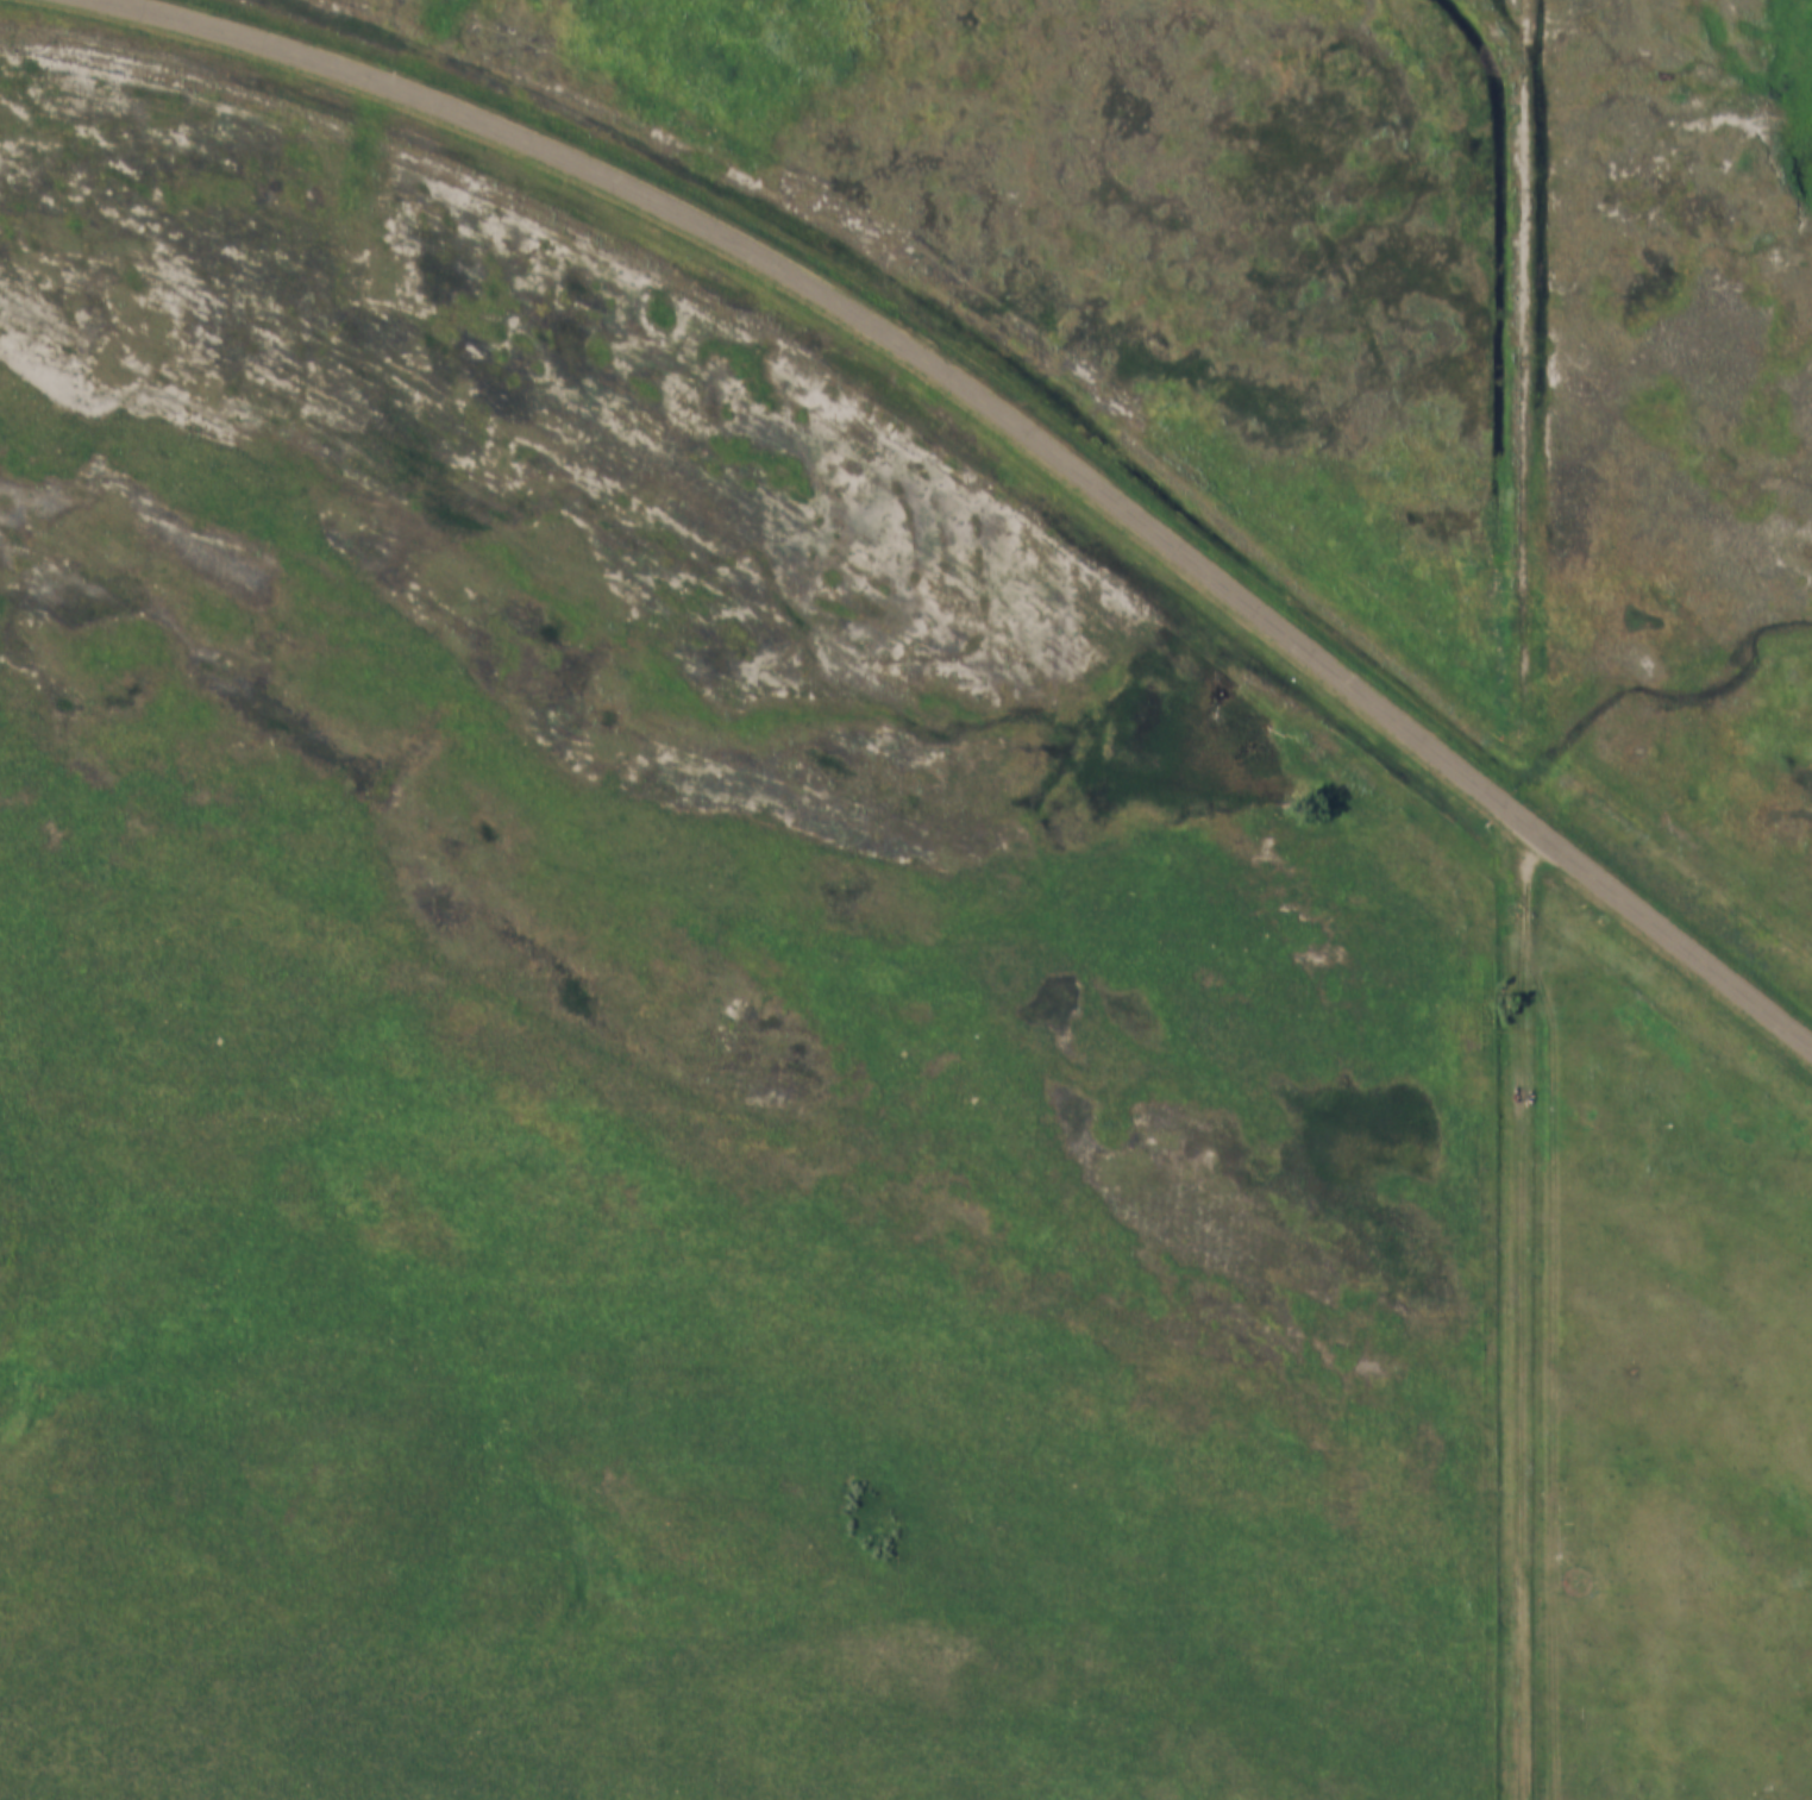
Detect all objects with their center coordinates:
road: (1009, 420)
road: (1525, 891)

